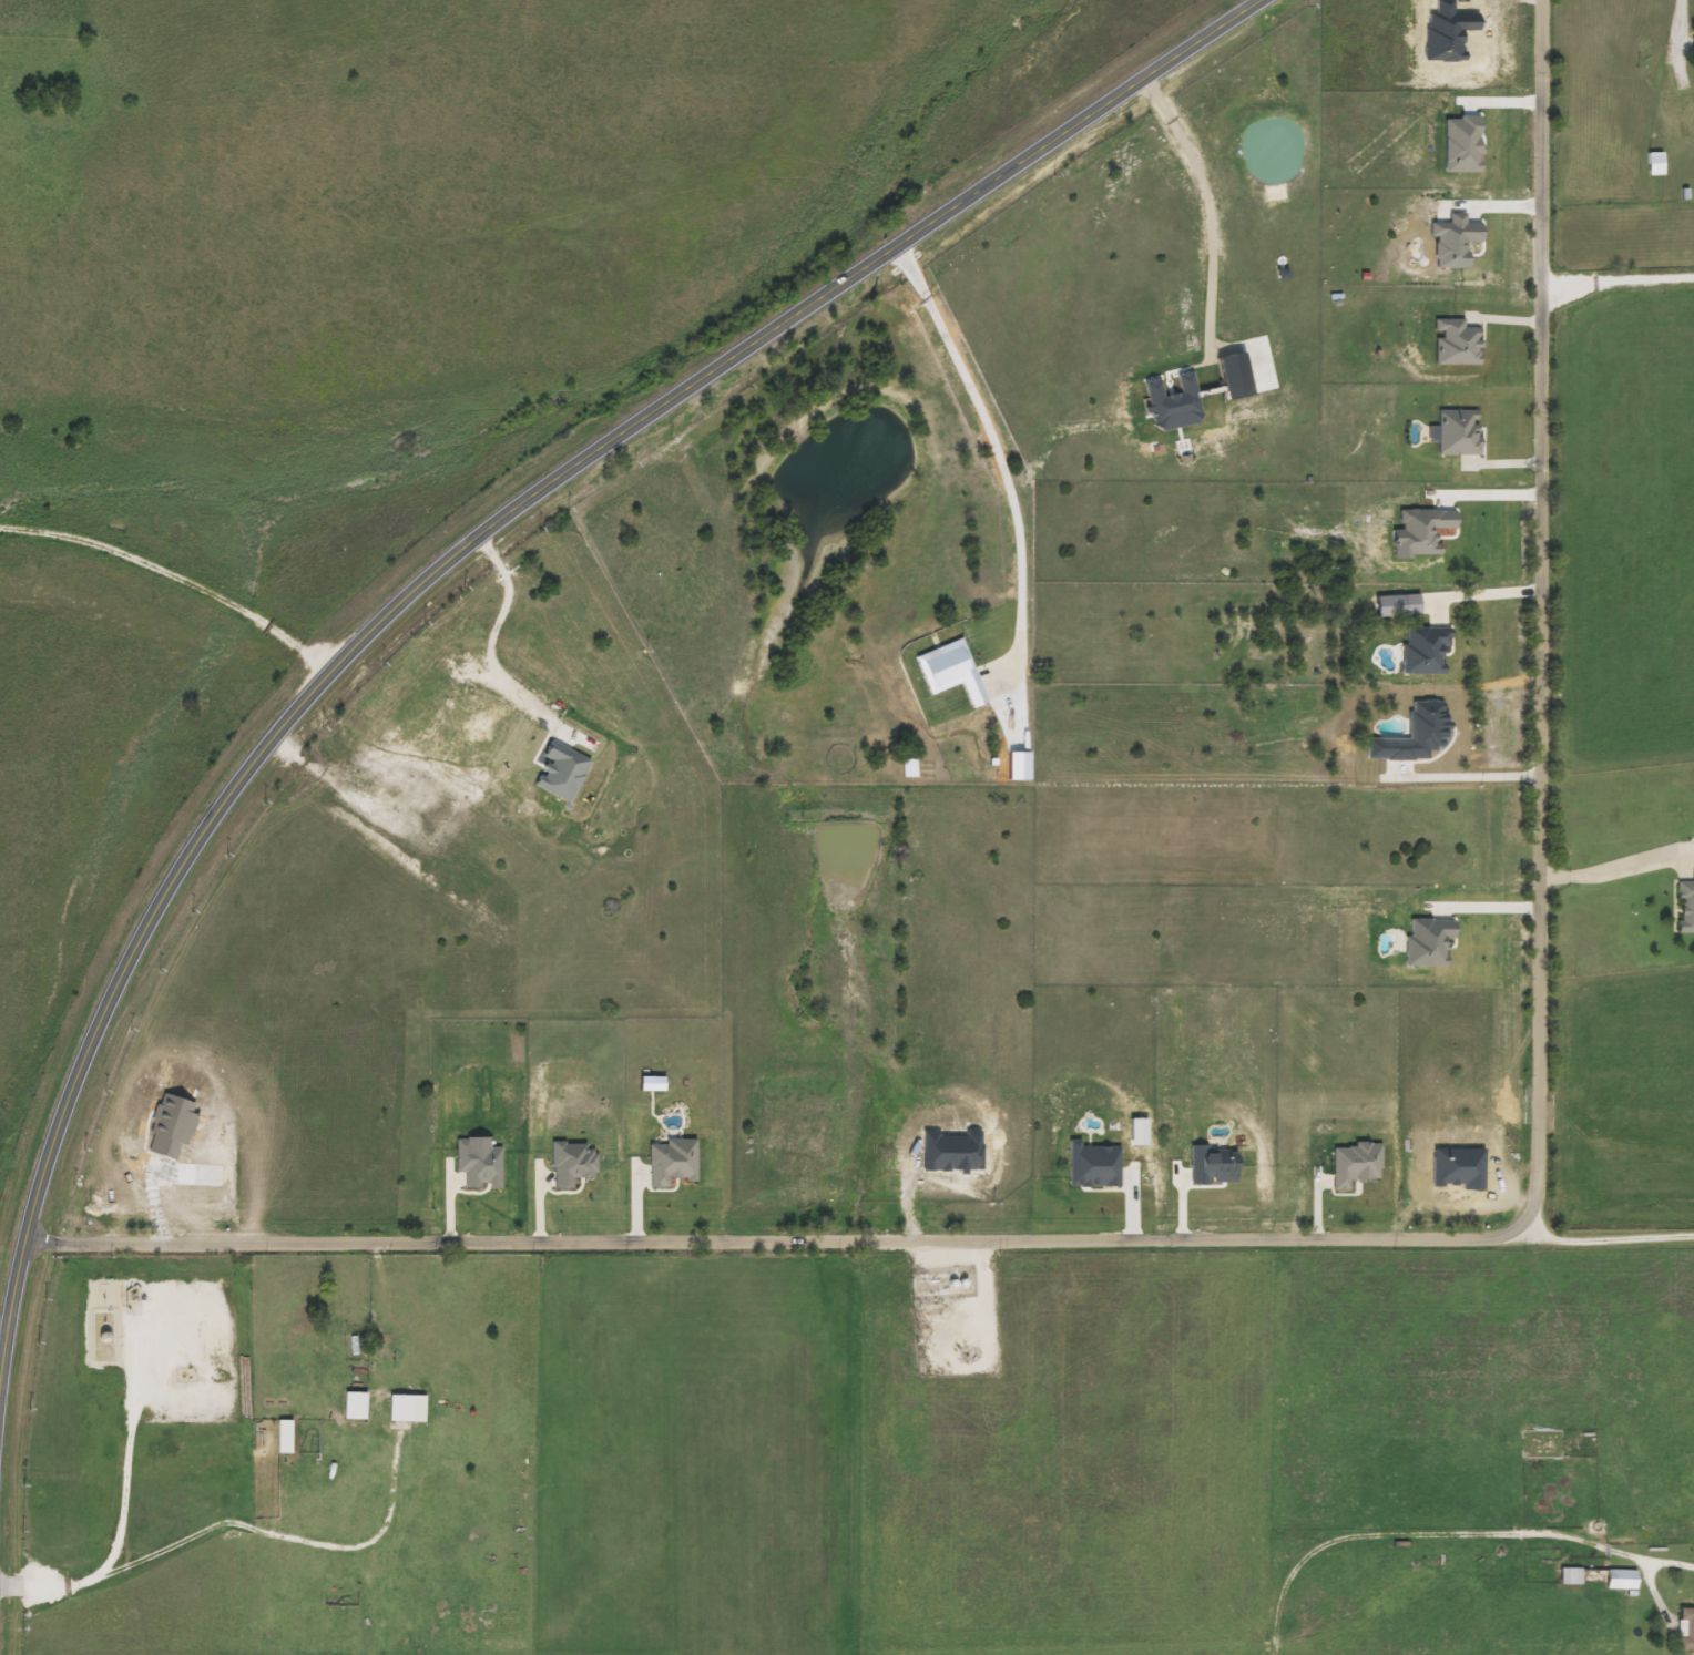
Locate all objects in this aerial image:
road: (1680, 9)
building: (1657, 164)
road: (1203, 198)
road: (1620, 265)
road: (1003, 462)
road: (1488, 498)
road: (462, 546)
road: (171, 575)
road: (1487, 595)
road: (484, 644)
road: (1479, 778)
road: (1613, 864)
building: (1687, 907)
road: (1488, 908)
road: (1603, 1235)
road: (1391, 1240)
road: (3, 1325)
building: (358, 1406)
building: (410, 1408)
building: (287, 1437)
building: (1549, 1444)
road: (225, 1524)
road: (1572, 1537)
road: (1320, 1544)
building: (1575, 1576)
building: (1626, 1580)
building: (1688, 1628)

